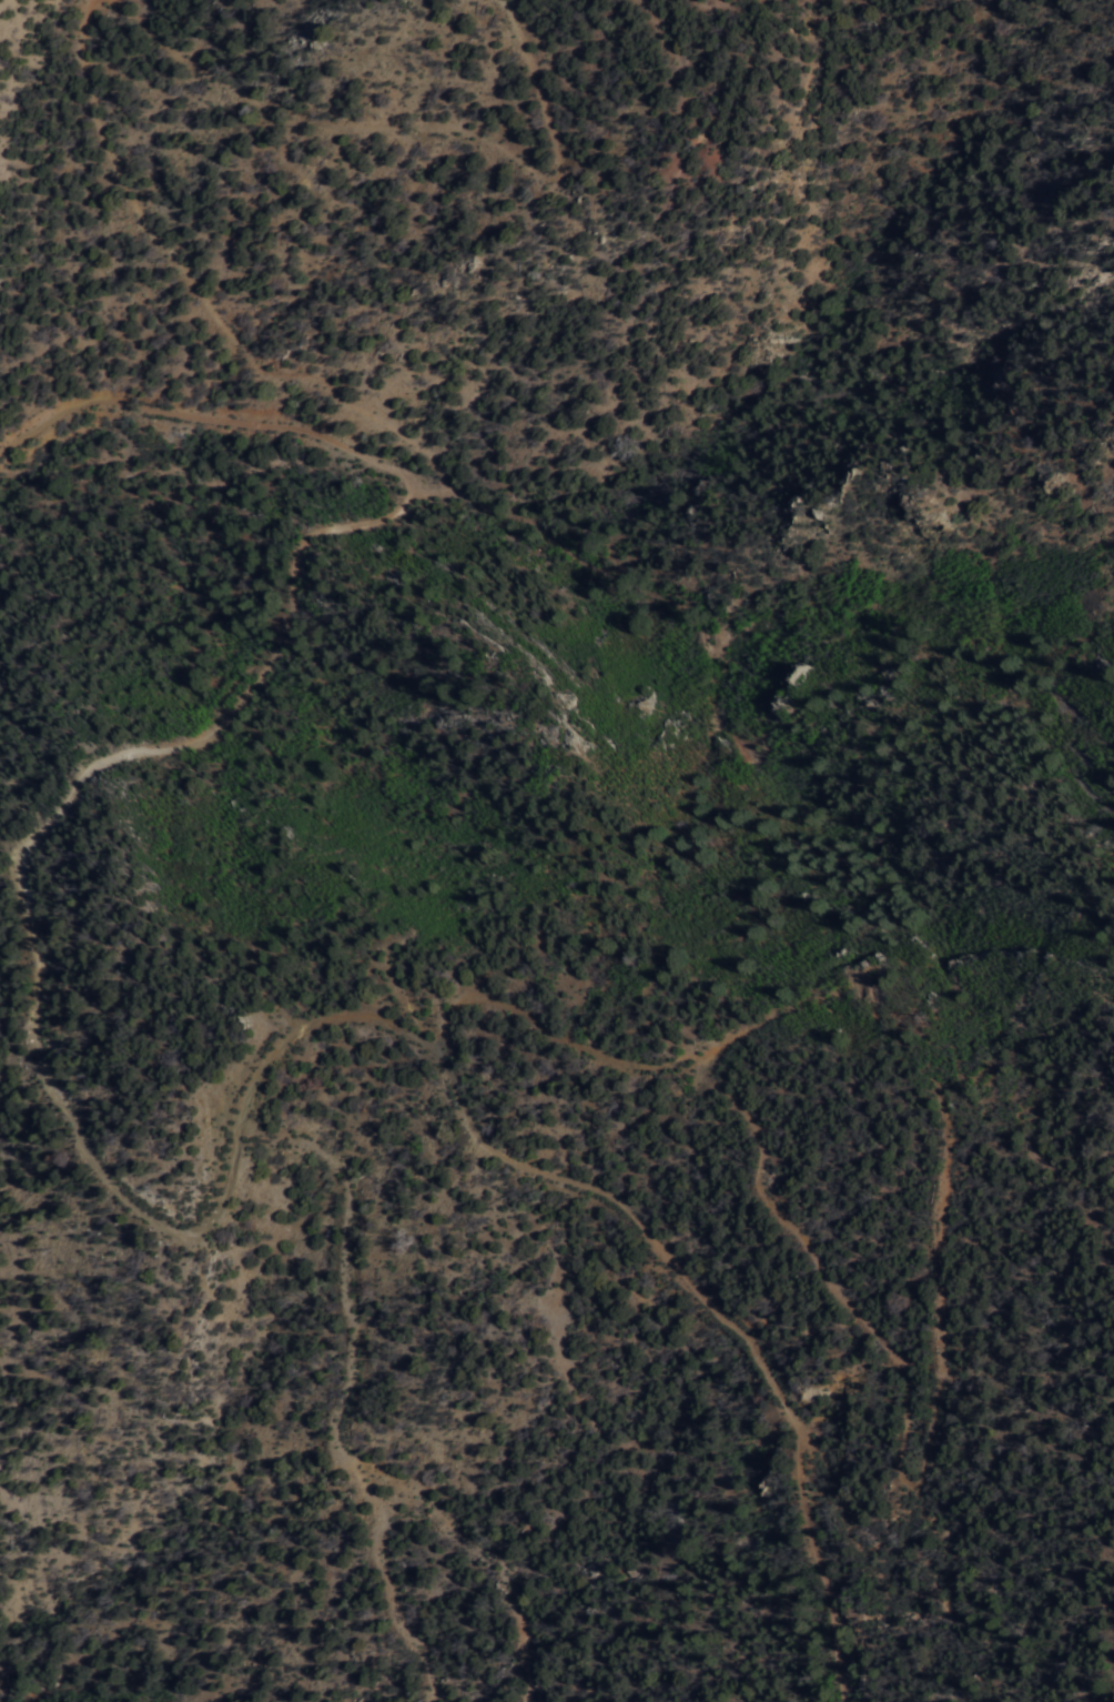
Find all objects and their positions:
road: (166, 101)
road: (60, 842)
road: (782, 1401)

